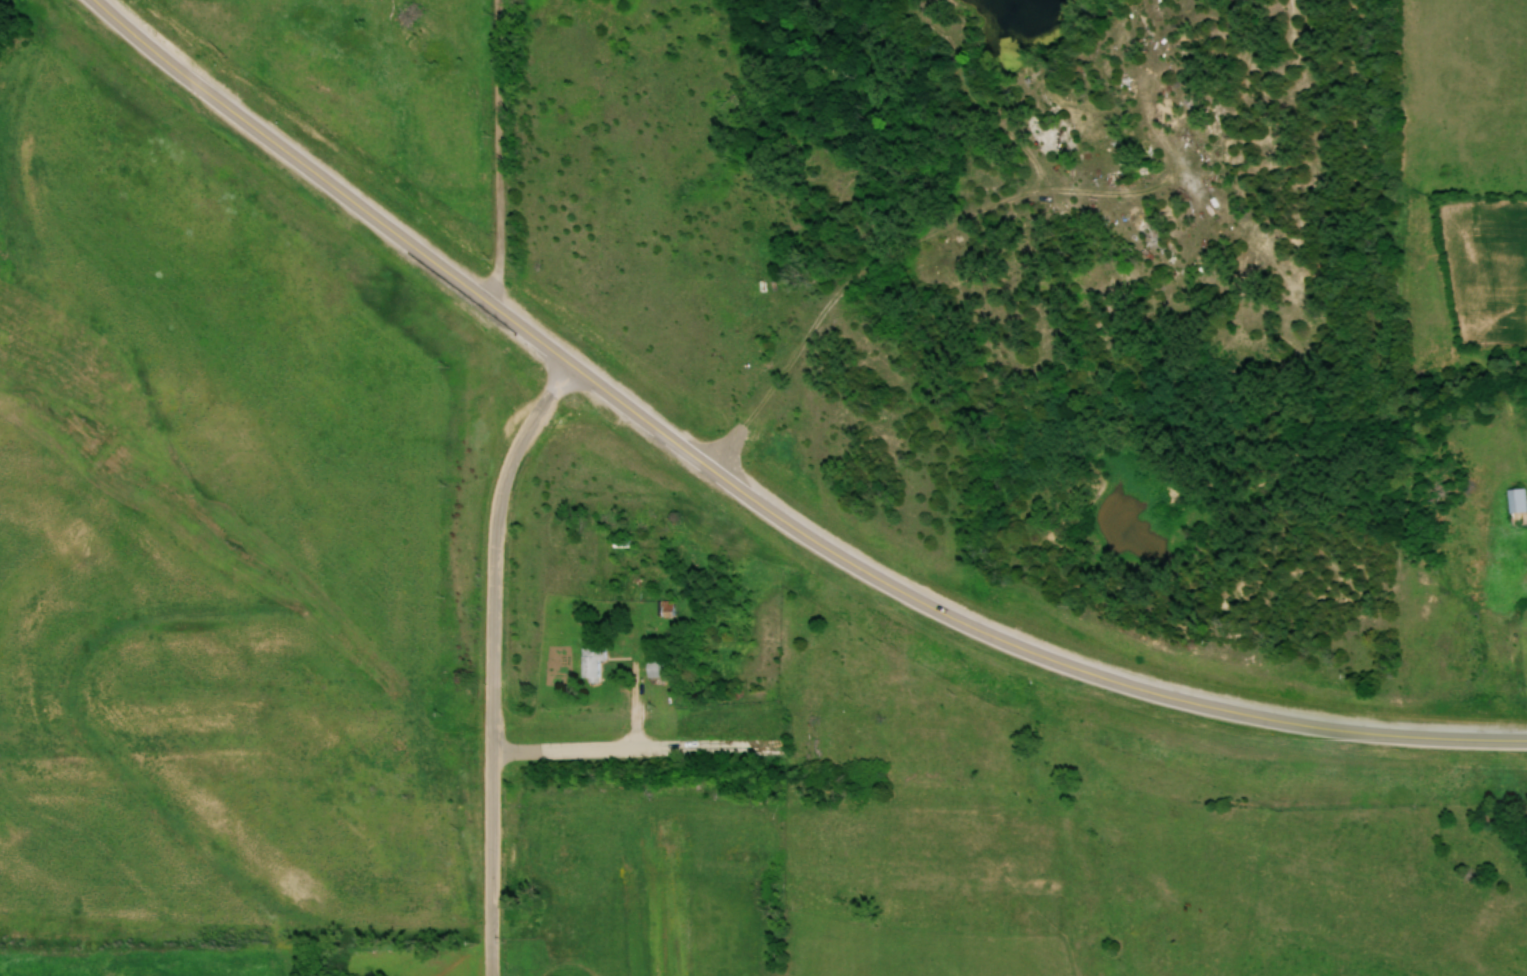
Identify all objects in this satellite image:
road: (989, 106)
road: (496, 151)
road: (1164, 180)
road: (846, 287)
road: (752, 498)
building: (1516, 500)
building: (667, 608)
road: (492, 660)
building: (591, 663)
building: (656, 668)
road: (639, 747)
road: (569, 963)

